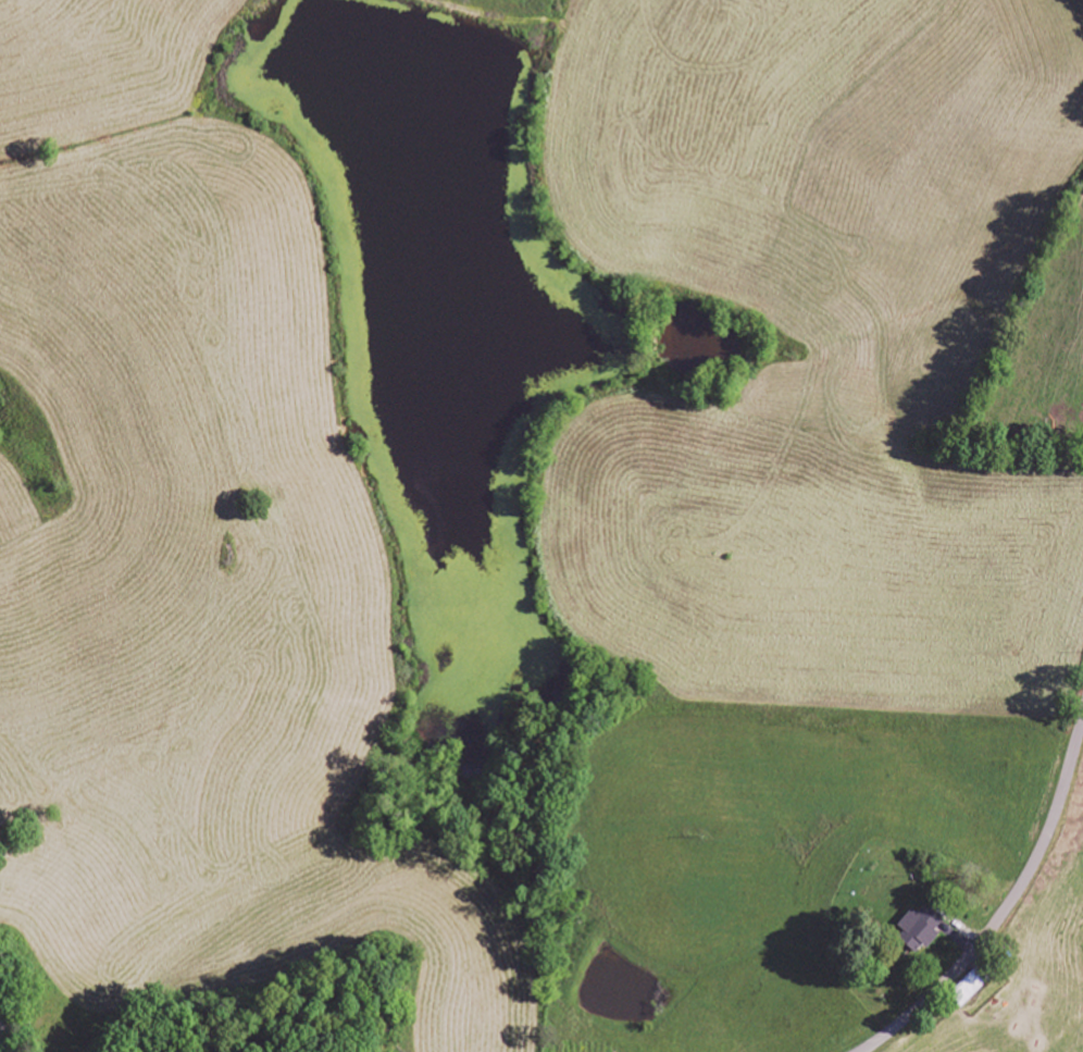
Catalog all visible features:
road: (1005, 908)
building: (920, 928)
road: (10, 1037)

